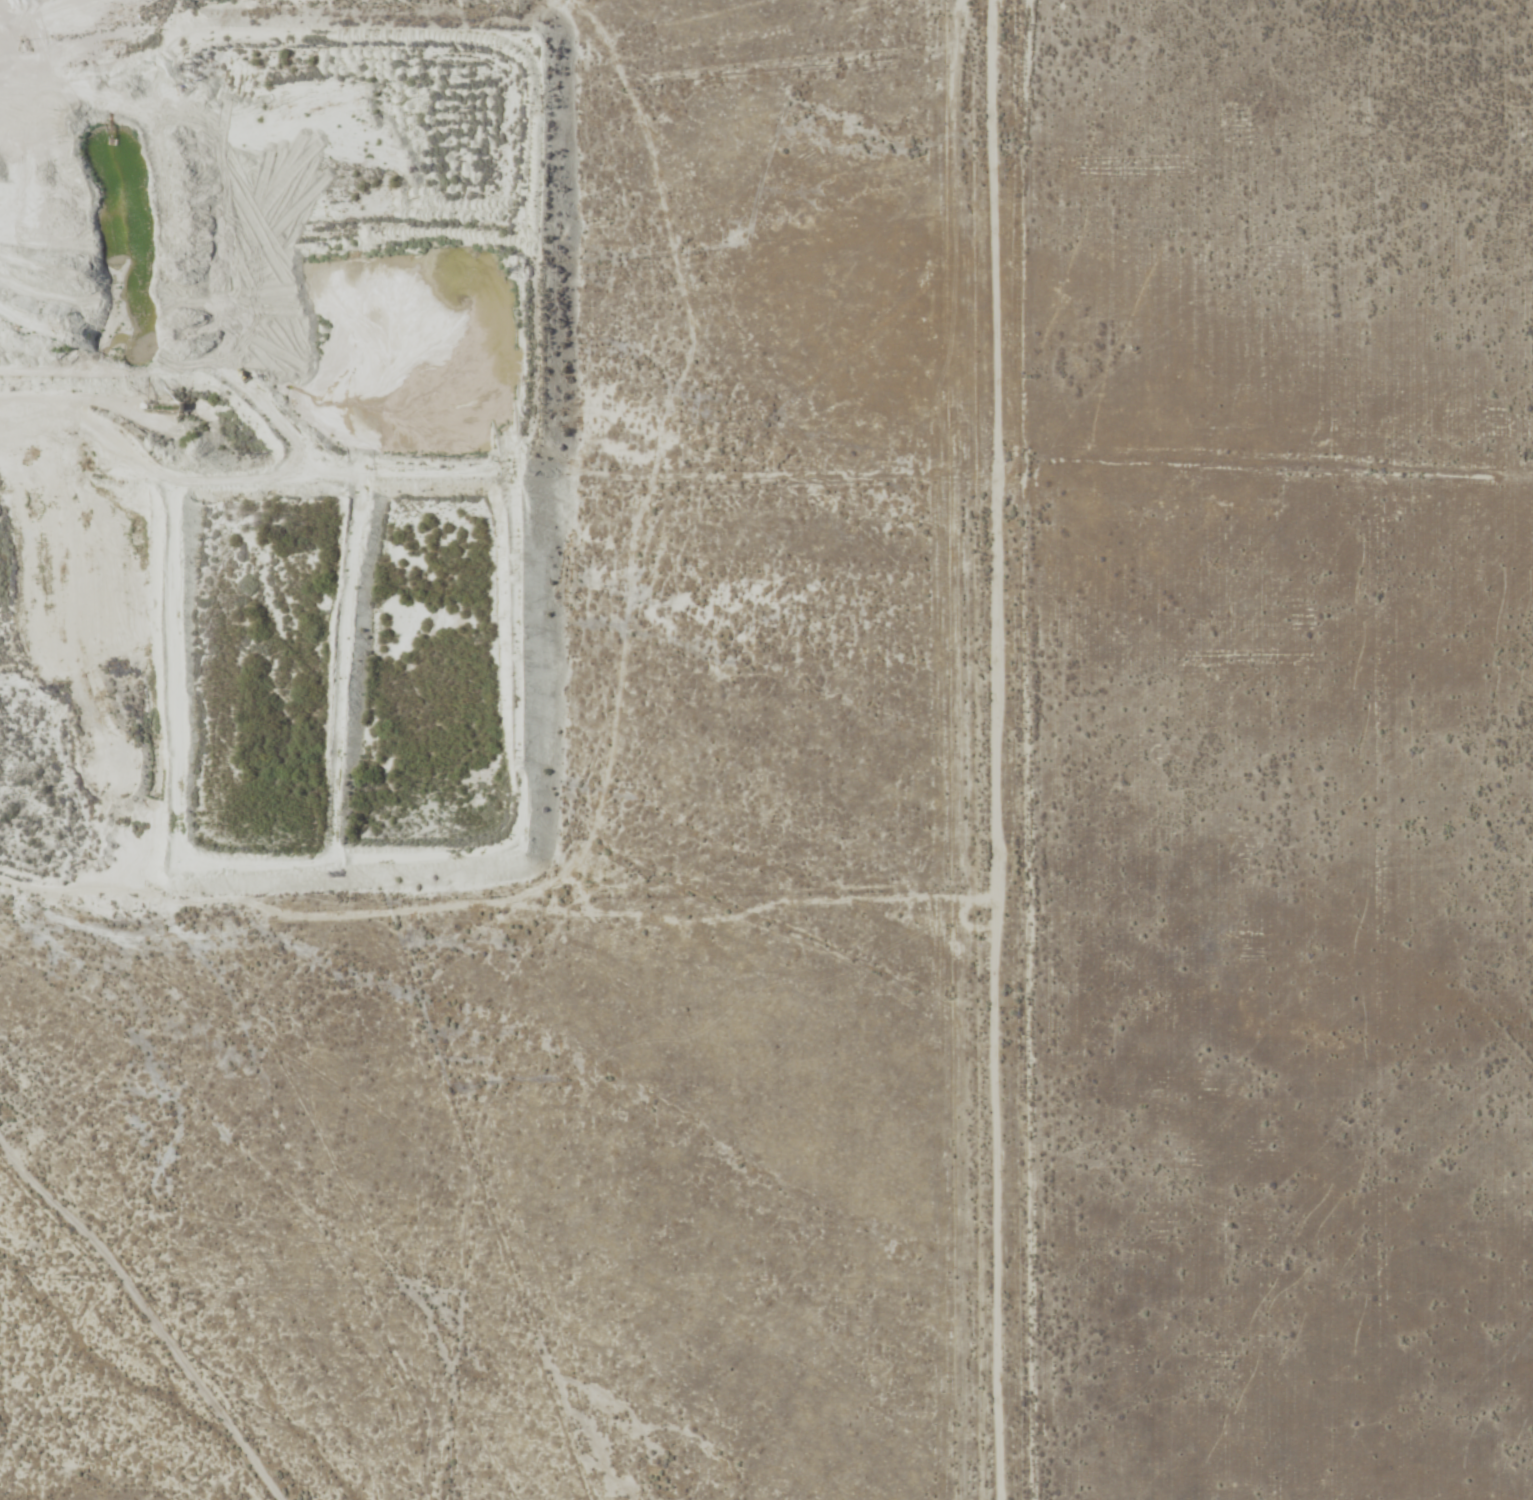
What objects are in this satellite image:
road: (267, 55)
road: (36, 603)
road: (142, 1304)

